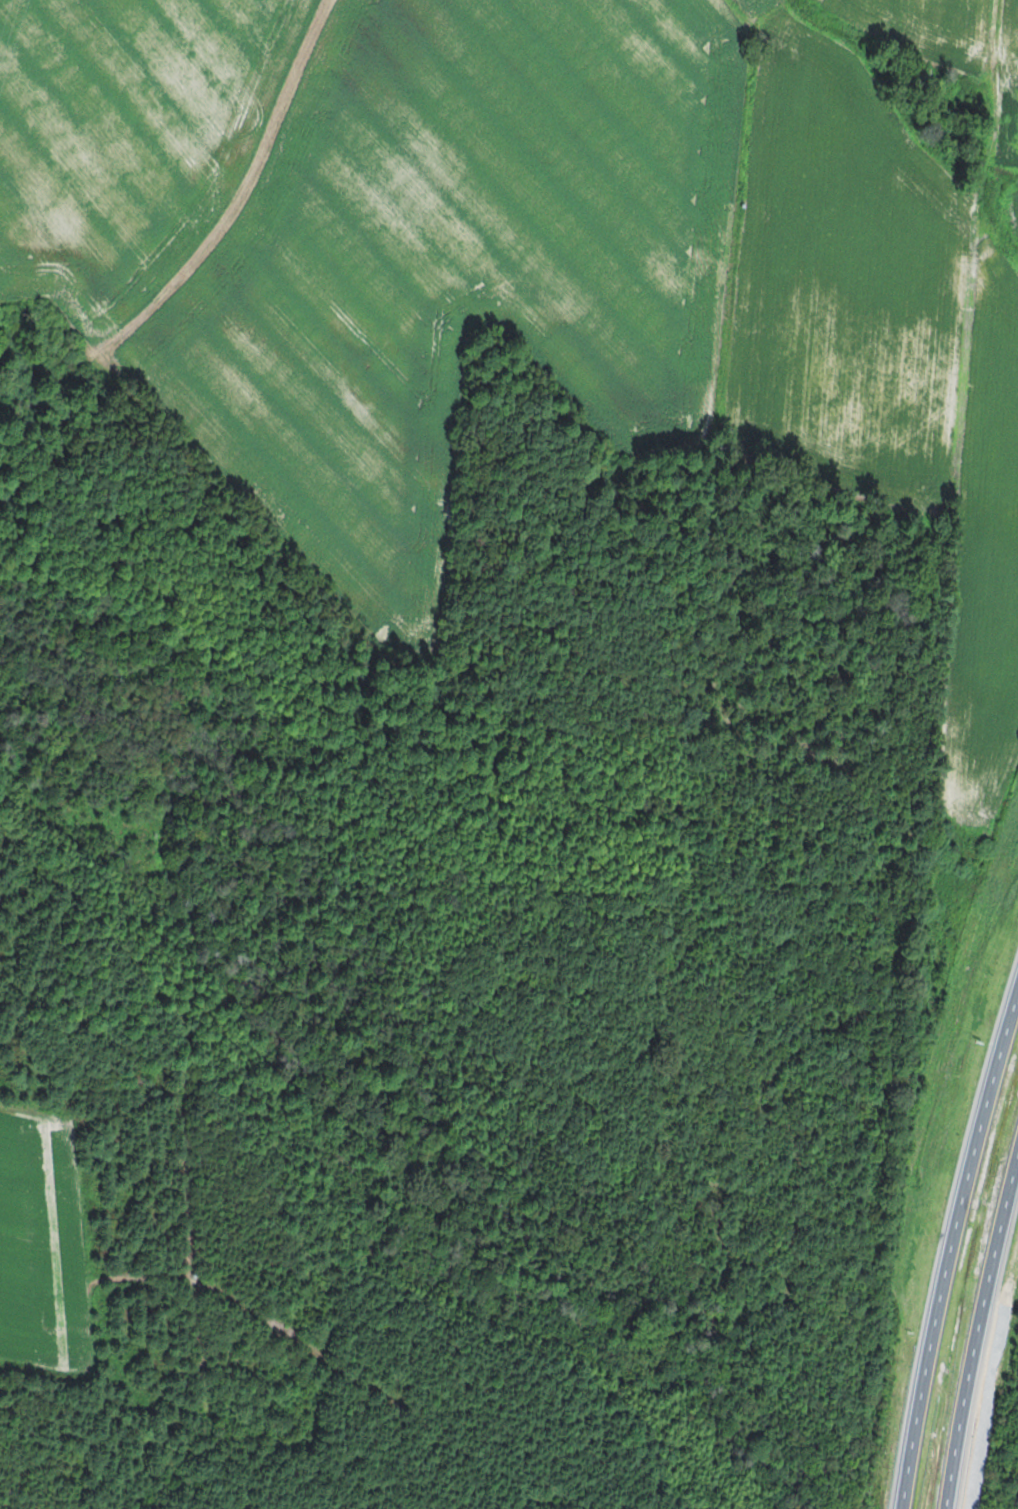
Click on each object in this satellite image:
road: (949, 1262)
road: (981, 1356)

